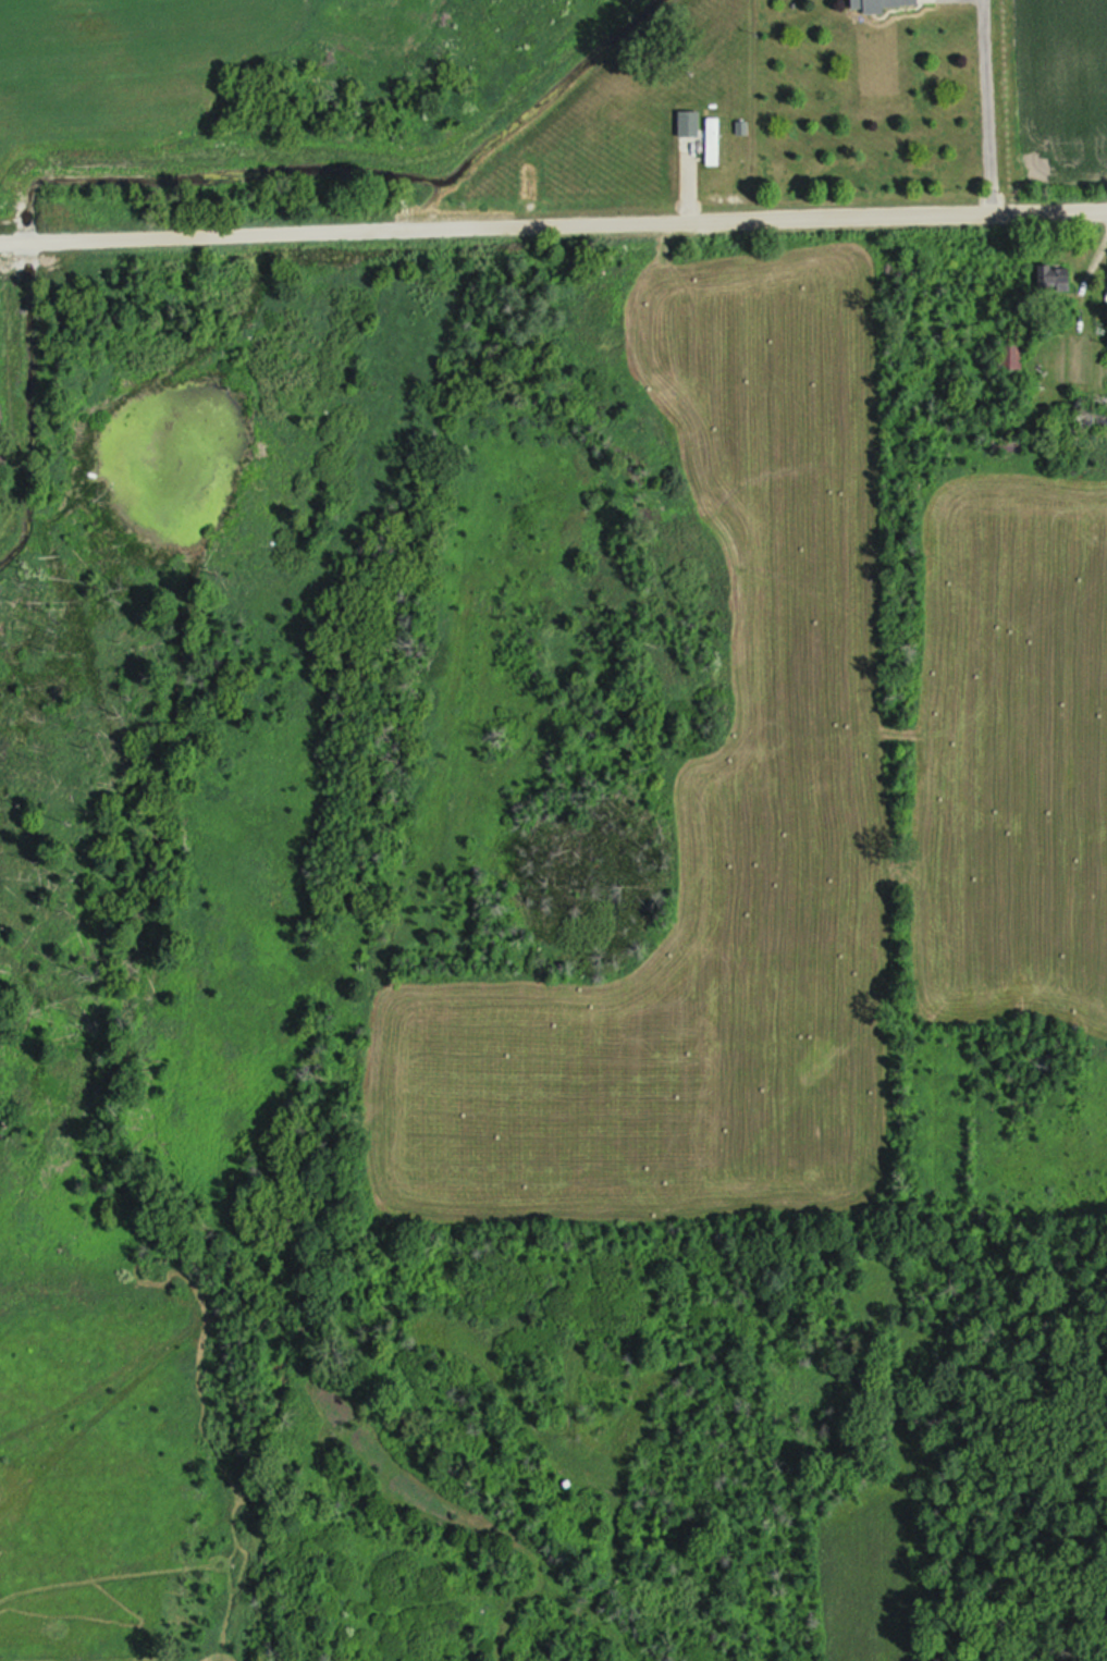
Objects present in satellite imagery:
building: (882, 5)
road: (994, 108)
building: (689, 126)
building: (713, 145)
road: (553, 226)
building: (1050, 280)
building: (1012, 355)
building: (1082, 422)

